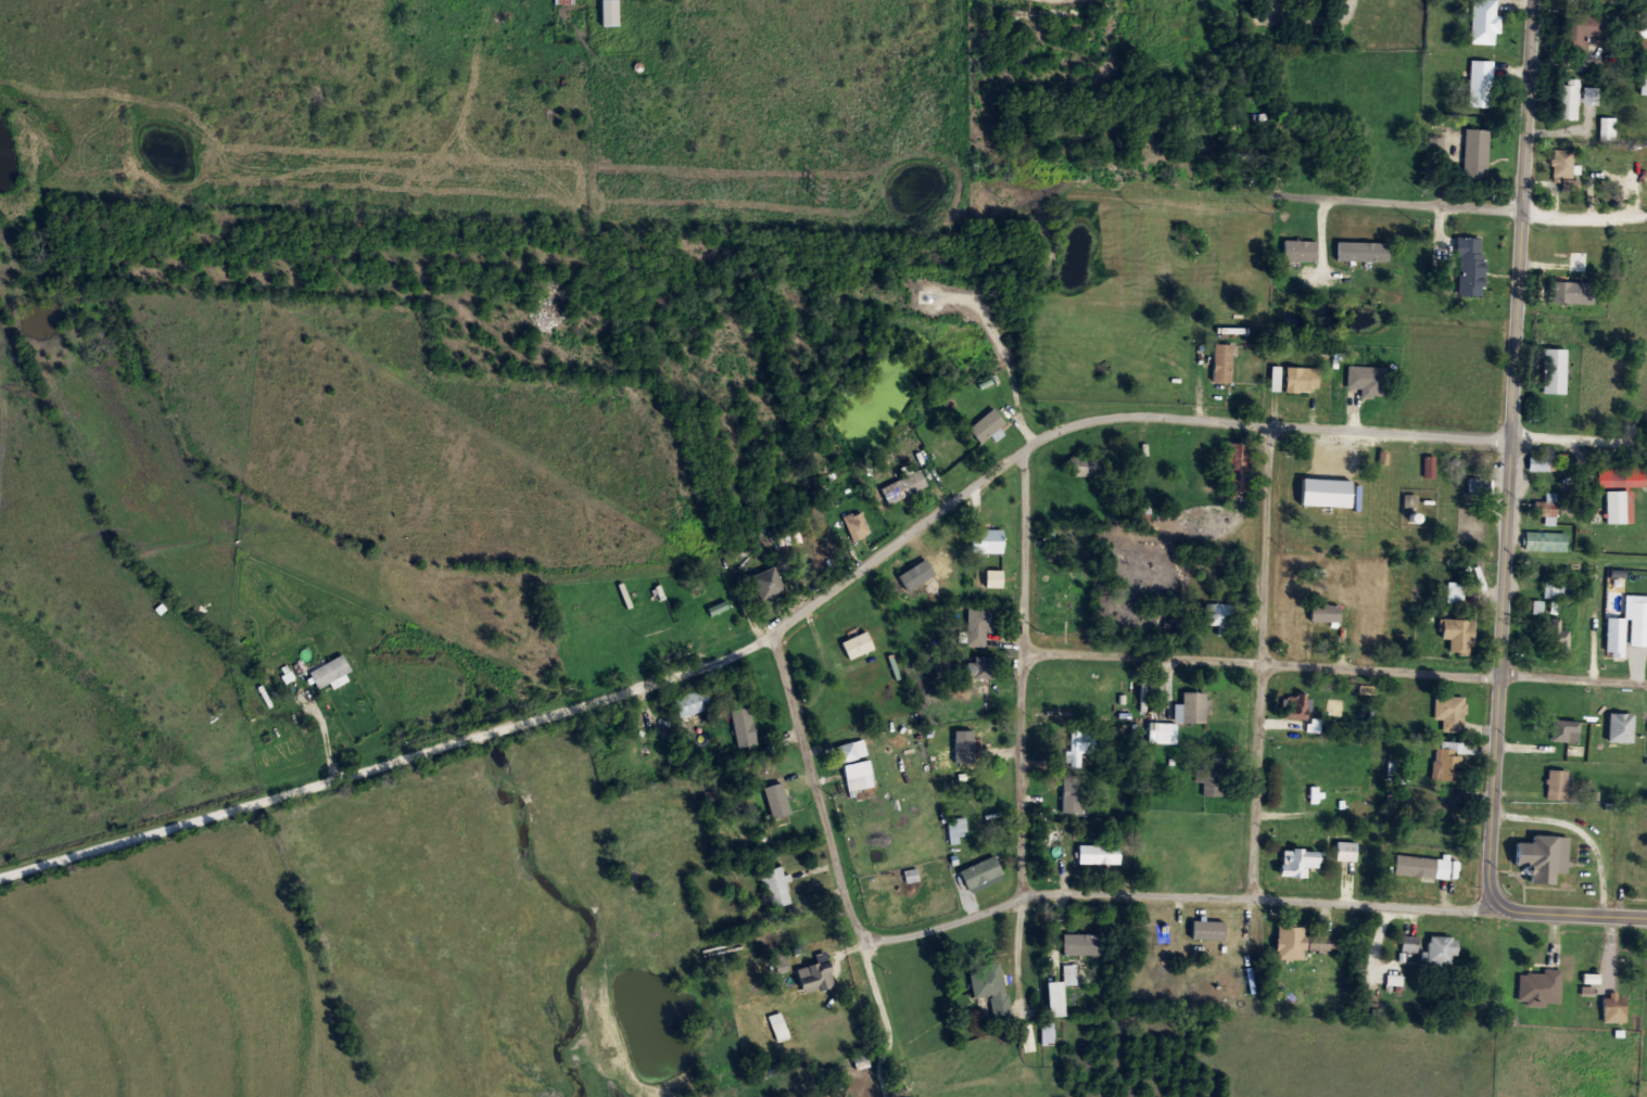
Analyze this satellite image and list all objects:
building: (565, 1)
building: (1274, 1)
building: (990, 10)
building: (609, 13)
road: (1320, 15)
building: (1482, 20)
building: (1580, 28)
building: (1480, 82)
building: (1644, 85)
building: (1592, 98)
building: (1569, 100)
building: (1609, 128)
building: (1475, 152)
building: (1246, 157)
road: (1530, 160)
building: (1563, 166)
road: (1390, 200)
road: (1586, 213)
building: (1297, 250)
building: (1360, 251)
building: (1575, 260)
railway: (823, 265)
building: (1468, 265)
building: (1569, 291)
building: (1219, 362)
building: (1554, 372)
building: (1300, 379)
building: (1365, 380)
road: (1265, 422)
building: (985, 424)
road: (1580, 436)
building: (1388, 446)
building: (1537, 462)
building: (1084, 465)
building: (1427, 465)
building: (1236, 467)
building: (1619, 475)
building: (901, 486)
building: (1475, 486)
building: (1328, 493)
building: (1619, 507)
building: (1544, 508)
building: (1467, 512)
building: (856, 524)
building: (1464, 530)
building: (1545, 539)
building: (990, 540)
building: (993, 578)
building: (764, 583)
building: (1555, 589)
building: (1064, 608)
building: (1326, 612)
road: (1503, 612)
building: (1218, 616)
building: (979, 624)
building: (1549, 628)
building: (1460, 634)
building: (1617, 635)
road: (1262, 661)
building: (980, 666)
building: (329, 671)
road: (1573, 676)
road: (1260, 688)
building: (692, 702)
building: (1294, 705)
building: (1192, 706)
building: (1447, 712)
road: (539, 714)
building: (743, 725)
building: (1564, 727)
road: (1023, 728)
building: (1622, 728)
building: (975, 730)
building: (1164, 731)
building: (1078, 744)
building: (853, 750)
building: (1448, 764)
building: (860, 776)
building: (1211, 778)
building: (1554, 783)
building: (1069, 793)
building: (777, 799)
building: (956, 826)
building: (1346, 851)
building: (1100, 854)
building: (1541, 856)
building: (1300, 863)
road: (839, 865)
building: (978, 865)
building: (1424, 867)
building: (1635, 873)
building: (777, 889)
road: (1173, 893)
road: (1568, 909)
building: (1208, 927)
building: (1298, 942)
building: (1409, 943)
building: (1443, 949)
building: (1070, 972)
building: (813, 977)
building: (1541, 986)
building: (991, 987)
building: (1056, 1000)
building: (1614, 1011)
building: (1048, 1032)

